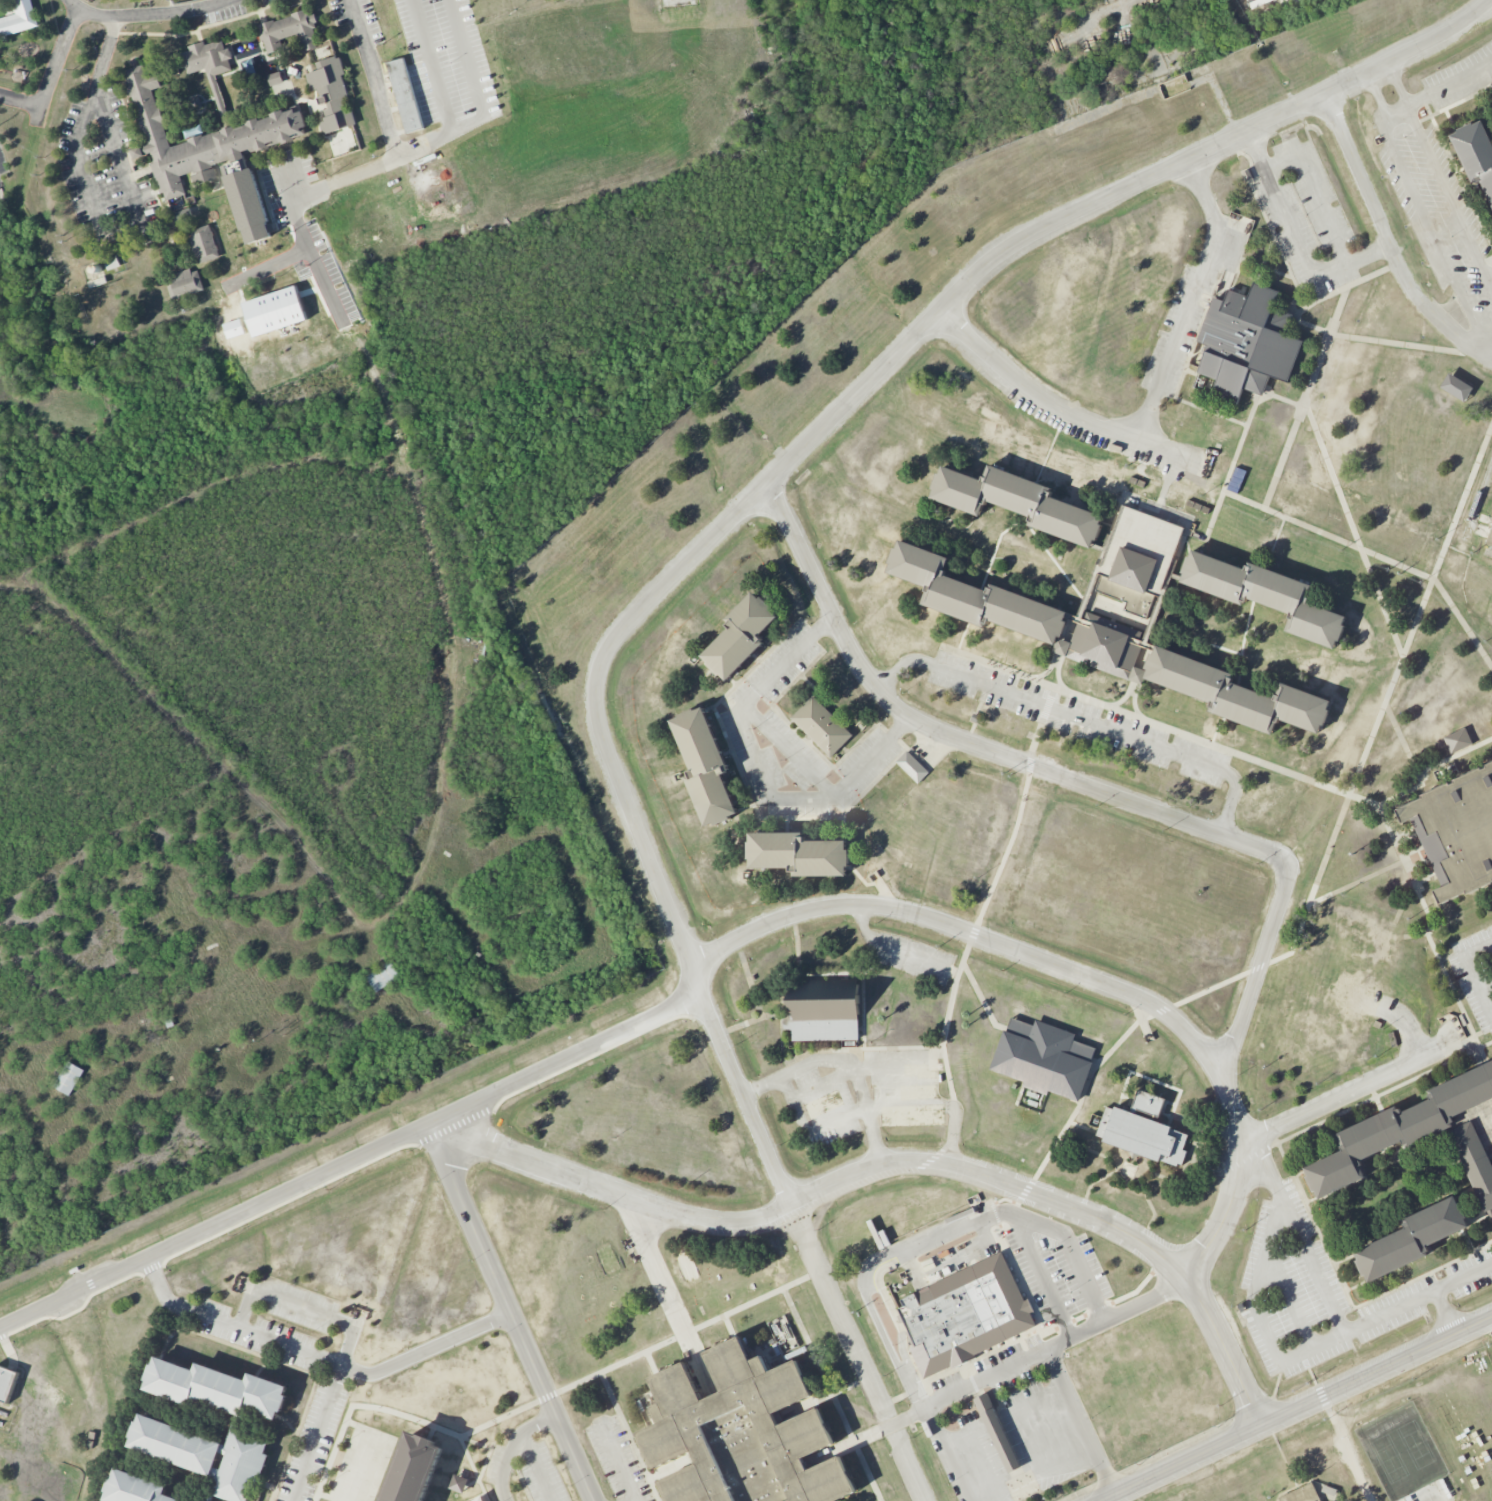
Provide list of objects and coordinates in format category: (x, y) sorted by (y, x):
road: (680, 1)
road: (147, 13)
building: (19, 19)
building: (290, 32)
road: (55, 66)
road: (431, 66)
building: (210, 68)
building: (275, 78)
road: (1444, 89)
building: (332, 94)
building: (405, 95)
road: (21, 100)
road: (479, 103)
road: (1397, 113)
road: (1389, 135)
building: (210, 153)
building: (1476, 155)
road: (369, 170)
road: (1318, 194)
building: (182, 214)
road: (94, 218)
road: (1391, 239)
building: (203, 244)
road: (1298, 244)
building: (112, 263)
road: (275, 265)
building: (184, 283)
road: (1193, 300)
building: (234, 329)
road: (1341, 335)
road: (1480, 341)
building: (1247, 343)
building: (1456, 387)
road: (1287, 400)
road: (1048, 406)
road: (1212, 412)
road: (1322, 451)
road: (783, 468)
building: (1018, 502)
building: (1490, 539)
road: (1341, 542)
building: (1138, 559)
building: (1265, 594)
building: (741, 636)
building: (1105, 646)
road: (1385, 698)
road: (1080, 717)
building: (976, 718)
building: (822, 726)
building: (1458, 741)
road: (965, 743)
road: (791, 751)
road: (1239, 755)
building: (705, 766)
building: (912, 767)
road: (1418, 774)
road: (760, 776)
road: (1404, 793)
building: (1460, 830)
building: (799, 854)
road: (1262, 965)
road: (1473, 975)
building: (383, 976)
road: (1075, 976)
road: (1212, 988)
building: (824, 1009)
road: (1118, 1040)
building: (1044, 1058)
building: (69, 1078)
road: (1363, 1088)
road: (862, 1116)
building: (1399, 1129)
building: (1143, 1131)
road: (875, 1142)
road: (353, 1160)
building: (1474, 1161)
road: (887, 1169)
building: (1411, 1239)
road: (1073, 1249)
road: (651, 1256)
road: (885, 1259)
road: (1039, 1273)
road: (1462, 1280)
road: (1329, 1298)
road: (1255, 1314)
building: (964, 1315)
road: (512, 1318)
building: (783, 1334)
road: (347, 1349)
road: (1038, 1351)
road: (861, 1356)
road: (319, 1357)
building: (7, 1383)
road: (1293, 1407)
road: (1083, 1419)
building: (156, 1427)
building: (997, 1433)
building: (740, 1436)
road: (512, 1448)
park: (1401, 1452)
road: (951, 1453)
road: (619, 1461)
road: (538, 1467)
building: (414, 1469)
building: (459, 1483)
building: (136, 1488)
building: (1302, 1494)
road: (632, 1499)

